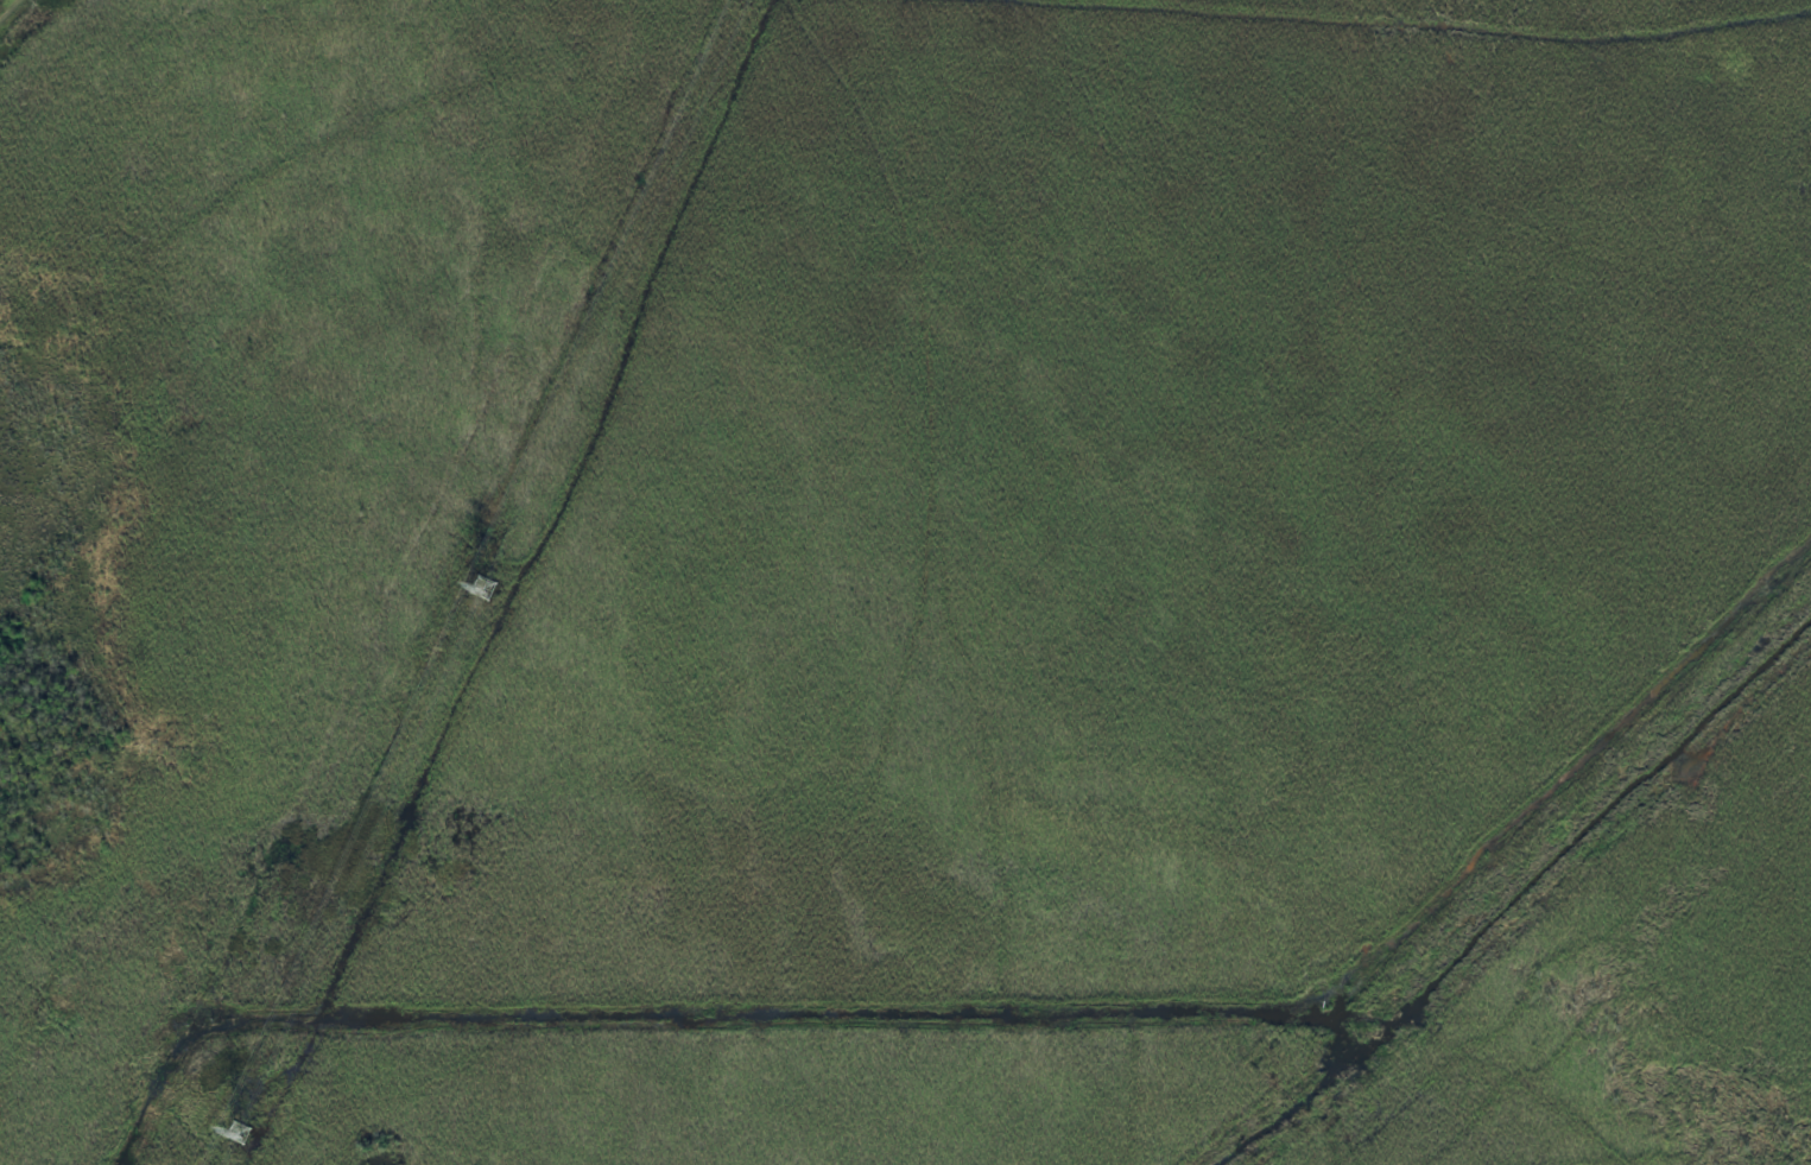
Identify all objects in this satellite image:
road: (20, 23)
power tower: (483, 588)
power tower: (235, 1134)

